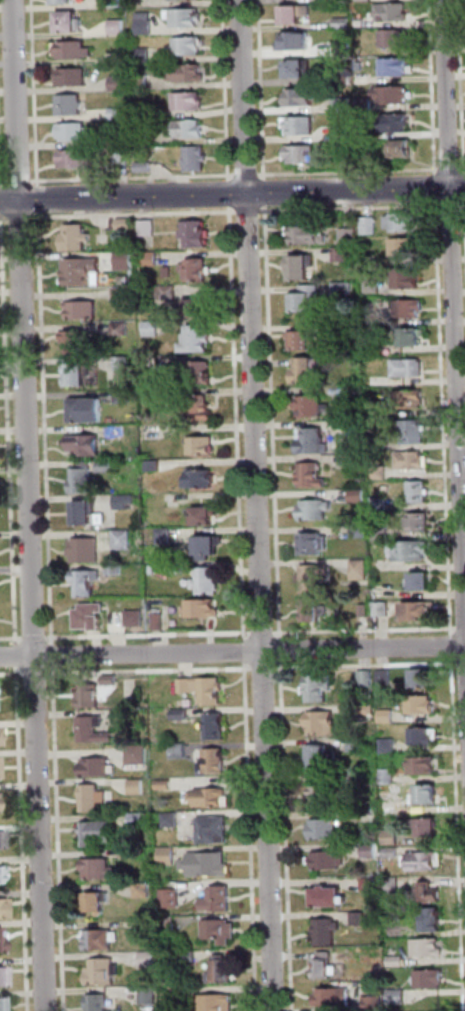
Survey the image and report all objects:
building: (366, 0)
building: (331, 1)
building: (64, 2)
building: (115, 4)
building: (395, 13)
building: (296, 15)
building: (186, 18)
building: (69, 24)
building: (146, 24)
building: (343, 24)
building: (118, 28)
building: (396, 40)
building: (296, 42)
building: (188, 46)
building: (345, 49)
building: (74, 51)
road: (463, 52)
building: (144, 56)
building: (396, 68)
building: (298, 70)
building: (189, 74)
building: (73, 78)
building: (365, 79)
building: (144, 83)
building: (120, 84)
road: (227, 90)
road: (35, 93)
building: (394, 96)
building: (301, 98)
building: (189, 102)
building: (344, 105)
building: (71, 106)
building: (145, 113)
building: (118, 114)
building: (397, 124)
building: (300, 127)
building: (191, 130)
building: (76, 133)
building: (345, 133)
building: (144, 138)
building: (114, 141)
building: (403, 151)
building: (302, 156)
building: (122, 157)
building: (350, 158)
building: (197, 159)
building: (76, 160)
building: (146, 168)
road: (457, 169)
road: (464, 169)
road: (243, 175)
road: (135, 177)
road: (27, 182)
road: (231, 194)
road: (232, 194)
road: (438, 195)
road: (39, 199)
road: (268, 199)
road: (453, 205)
road: (464, 205)
road: (4, 207)
road: (352, 208)
road: (250, 211)
road: (135, 214)
road: (21, 217)
road: (4, 218)
building: (126, 224)
building: (404, 224)
building: (370, 226)
building: (149, 228)
building: (195, 235)
building: (308, 236)
building: (351, 237)
building: (76, 238)
building: (404, 248)
building: (343, 255)
building: (152, 259)
building: (371, 260)
building: (126, 262)
building: (303, 268)
building: (196, 271)
building: (82, 272)
building: (135, 274)
building: (407, 278)
road: (455, 284)
building: (372, 287)
building: (343, 290)
building: (123, 293)
building: (170, 293)
building: (309, 300)
building: (410, 309)
building: (199, 310)
building: (84, 311)
building: (377, 319)
building: (121, 329)
building: (153, 329)
building: (351, 332)
building: (413, 338)
building: (197, 340)
building: (304, 341)
building: (76, 344)
building: (124, 364)
building: (409, 369)
building: (307, 372)
building: (202, 374)
building: (78, 376)
building: (356, 395)
building: (153, 396)
building: (124, 397)
building: (410, 400)
building: (314, 407)
building: (202, 409)
building: (87, 411)
building: (379, 412)
road: (445, 418)
building: (113, 421)
road: (274, 422)
road: (238, 424)
road: (47, 428)
road: (10, 430)
building: (357, 430)
building: (414, 432)
building: (314, 443)
building: (381, 444)
building: (87, 447)
building: (203, 447)
building: (412, 462)
building: (357, 465)
building: (155, 467)
building: (106, 468)
building: (380, 473)
building: (312, 476)
building: (201, 481)
building: (84, 482)
building: (420, 493)
building: (359, 497)
building: (125, 503)
building: (381, 504)
road: (30, 505)
road: (260, 505)
building: (316, 511)
building: (88, 515)
building: (205, 519)
building: (421, 524)
building: (360, 531)
building: (383, 534)
building: (165, 536)
building: (123, 540)
building: (314, 544)
building: (209, 548)
building: (86, 550)
building: (411, 552)
building: (178, 569)
building: (116, 570)
building: (154, 570)
building: (361, 571)
building: (314, 578)
building: (208, 581)
building: (87, 583)
building: (423, 583)
building: (202, 609)
building: (383, 610)
building: (315, 612)
building: (420, 612)
building: (91, 618)
building: (136, 618)
building: (160, 623)
road: (461, 629)
road: (366, 630)
road: (264, 633)
road: (150, 636)
road: (12, 639)
road: (36, 639)
road: (453, 647)
road: (282, 650)
road: (232, 651)
road: (247, 651)
road: (54, 656)
road: (19, 657)
road: (462, 663)
road: (368, 665)
road: (265, 668)
road: (151, 671)
road: (36, 674)
road: (12, 675)
building: (368, 678)
building: (386, 678)
building: (423, 678)
building: (112, 681)
building: (320, 689)
building: (205, 690)
building: (91, 697)
building: (421, 705)
building: (369, 710)
building: (123, 715)
building: (182, 716)
building: (388, 716)
building: (323, 723)
building: (216, 727)
building: (93, 730)
building: (424, 736)
building: (358, 745)
building: (390, 745)
building: (181, 752)
building: (139, 756)
building: (320, 758)
building: (216, 762)
building: (423, 766)
building: (99, 768)
building: (389, 776)
building: (358, 781)
building: (165, 786)
building: (138, 787)
building: (323, 794)
building: (429, 796)
building: (94, 799)
building: (211, 799)
building: (0, 803)
road: (459, 811)
building: (172, 820)
building: (139, 822)
building: (429, 828)
building: (326, 830)
building: (214, 832)
building: (97, 834)
road: (289, 835)
road: (253, 836)
building: (394, 837)
building: (3, 838)
road: (60, 838)
road: (25, 839)
building: (371, 850)
building: (393, 852)
building: (132, 855)
building: (169, 856)
building: (329, 861)
building: (424, 861)
building: (207, 864)
building: (100, 870)
building: (2, 876)
building: (394, 884)
building: (371, 885)
building: (144, 890)
building: (430, 892)
building: (171, 898)
building: (330, 899)
building: (220, 901)
building: (99, 902)
building: (5, 910)
building: (360, 919)
building: (431, 921)
building: (148, 923)
building: (170, 923)
building: (221, 931)
building: (328, 931)
building: (398, 932)
building: (2, 940)
building: (103, 940)
building: (429, 948)
building: (190, 956)
building: (150, 959)
building: (399, 962)
building: (325, 966)
building: (224, 970)
building: (104, 972)
building: (3, 978)
building: (431, 980)
building: (180, 993)
building: (151, 994)
building: (334, 997)
building: (400, 997)
building: (99, 1002)
building: (219, 1002)
building: (376, 1003)
building: (2, 1005)

